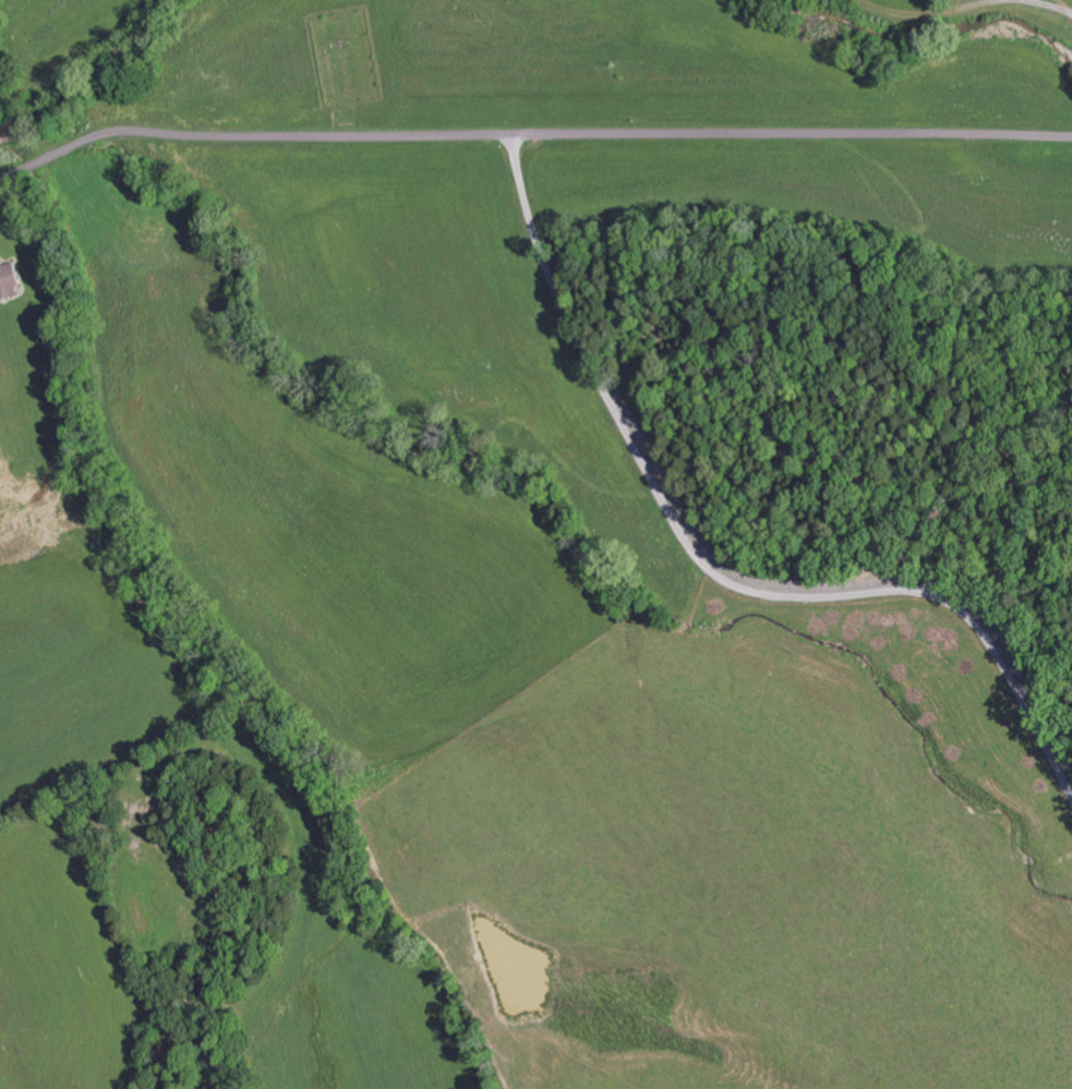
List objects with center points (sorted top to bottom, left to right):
road: (961, 8)
park: (346, 56)
road: (531, 134)

